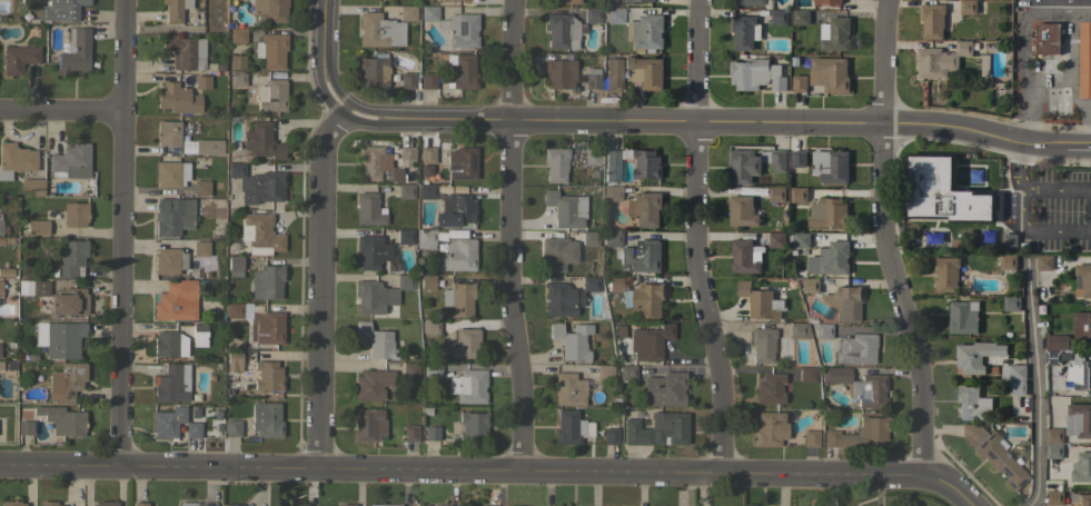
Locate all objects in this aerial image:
building: (444, 0)
building: (453, 0)
building: (565, 1)
building: (638, 1)
road: (1031, 1)
road: (1050, 1)
building: (751, 2)
building: (826, 2)
road: (1054, 2)
building: (968, 7)
building: (175, 9)
building: (60, 10)
building: (269, 10)
building: (407, 12)
building: (429, 12)
building: (592, 14)
building: (614, 14)
building: (778, 17)
building: (800, 17)
building: (932, 20)
building: (460, 29)
building: (379, 30)
building: (562, 30)
building: (744, 31)
building: (645, 32)
building: (237, 34)
building: (835, 34)
building: (1048, 39)
building: (270, 49)
building: (75, 51)
building: (185, 51)
building: (18, 58)
building: (941, 59)
building: (1085, 60)
building: (237, 61)
road: (1068, 62)
building: (373, 71)
building: (460, 71)
building: (645, 72)
building: (559, 73)
building: (613, 73)
building: (750, 73)
building: (830, 73)
building: (237, 78)
building: (593, 78)
road: (1029, 78)
building: (776, 79)
building: (407, 80)
building: (428, 80)
building: (202, 82)
building: (799, 83)
building: (271, 96)
building: (177, 98)
road: (1048, 98)
road: (60, 110)
road: (720, 123)
road: (1089, 126)
building: (168, 132)
building: (261, 141)
building: (208, 146)
building: (406, 155)
building: (427, 155)
building: (591, 156)
building: (799, 158)
building: (14, 159)
building: (777, 160)
building: (70, 161)
building: (371, 161)
rooftop solar panel: (473, 161)
building: (462, 162)
building: (555, 163)
building: (648, 166)
building: (743, 166)
building: (831, 166)
road: (1018, 167)
rooftop solar panel: (454, 168)
building: (170, 173)
rooftop solar panel: (459, 177)
building: (258, 183)
building: (31, 186)
building: (200, 187)
building: (427, 190)
road: (1059, 190)
building: (405, 191)
building: (943, 191)
building: (612, 194)
building: (776, 194)
building: (799, 195)
building: (565, 208)
building: (645, 208)
building: (368, 209)
rooftop solar panel: (469, 209)
building: (455, 211)
building: (742, 211)
building: (827, 212)
building: (75, 214)
building: (172, 216)
rooftop solar panel: (449, 218)
rooftop solar panel: (446, 225)
road: (321, 226)
building: (2, 227)
building: (37, 227)
road: (121, 231)
building: (260, 234)
road: (1037, 234)
road: (508, 235)
building: (405, 236)
road: (694, 237)
building: (425, 238)
building: (589, 238)
building: (612, 238)
road: (882, 238)
building: (7, 240)
building: (776, 240)
building: (801, 240)
building: (200, 248)
building: (373, 251)
building: (556, 252)
building: (456, 256)
building: (642, 256)
building: (745, 257)
building: (71, 258)
building: (831, 259)
building: (169, 260)
building: (1008, 262)
building: (1044, 262)
building: (235, 265)
building: (6, 272)
building: (945, 274)
building: (1084, 278)
building: (267, 281)
building: (404, 281)
building: (427, 281)
building: (589, 284)
building: (810, 285)
building: (0, 287)
building: (38, 287)
building: (369, 297)
building: (641, 297)
building: (458, 298)
building: (559, 299)
building: (176, 300)
building: (758, 301)
building: (69, 302)
building: (845, 302)
building: (1011, 304)
building: (232, 310)
building: (963, 317)
building: (429, 325)
building: (267, 326)
building: (1082, 327)
building: (796, 330)
building: (823, 330)
building: (199, 335)
building: (59, 338)
building: (376, 340)
building: (571, 340)
building: (649, 341)
building: (169, 344)
building: (465, 344)
building: (762, 344)
building: (856, 349)
building: (1054, 350)
building: (976, 356)
building: (232, 359)
building: (410, 369)
building: (432, 370)
building: (604, 371)
building: (627, 373)
building: (1016, 373)
building: (1080, 373)
building: (806, 374)
building: (267, 375)
building: (66, 381)
road: (1033, 383)
building: (172, 384)
building: (371, 384)
building: (859, 385)
building: (468, 386)
building: (1016, 387)
building: (568, 389)
building: (663, 389)
building: (768, 389)
building: (972, 404)
building: (62, 419)
building: (266, 419)
building: (1079, 420)
building: (168, 421)
building: (368, 424)
building: (473, 425)
building: (24, 427)
building: (231, 427)
building: (571, 427)
building: (770, 428)
building: (192, 429)
building: (657, 429)
building: (611, 431)
building: (410, 433)
building: (430, 433)
building: (971, 433)
building: (859, 434)
building: (810, 437)
building: (1054, 444)
building: (999, 459)
road: (488, 468)
building: (1081, 468)
building: (1054, 498)
building: (1080, 499)
building: (11, 503)
building: (48, 503)
building: (105, 504)
building: (139, 504)
building: (188, 504)
building: (299, 504)
building: (384, 504)
building: (232, 505)
building: (335, 505)
building: (421, 505)
building: (440, 505)
building: (486, 505)

